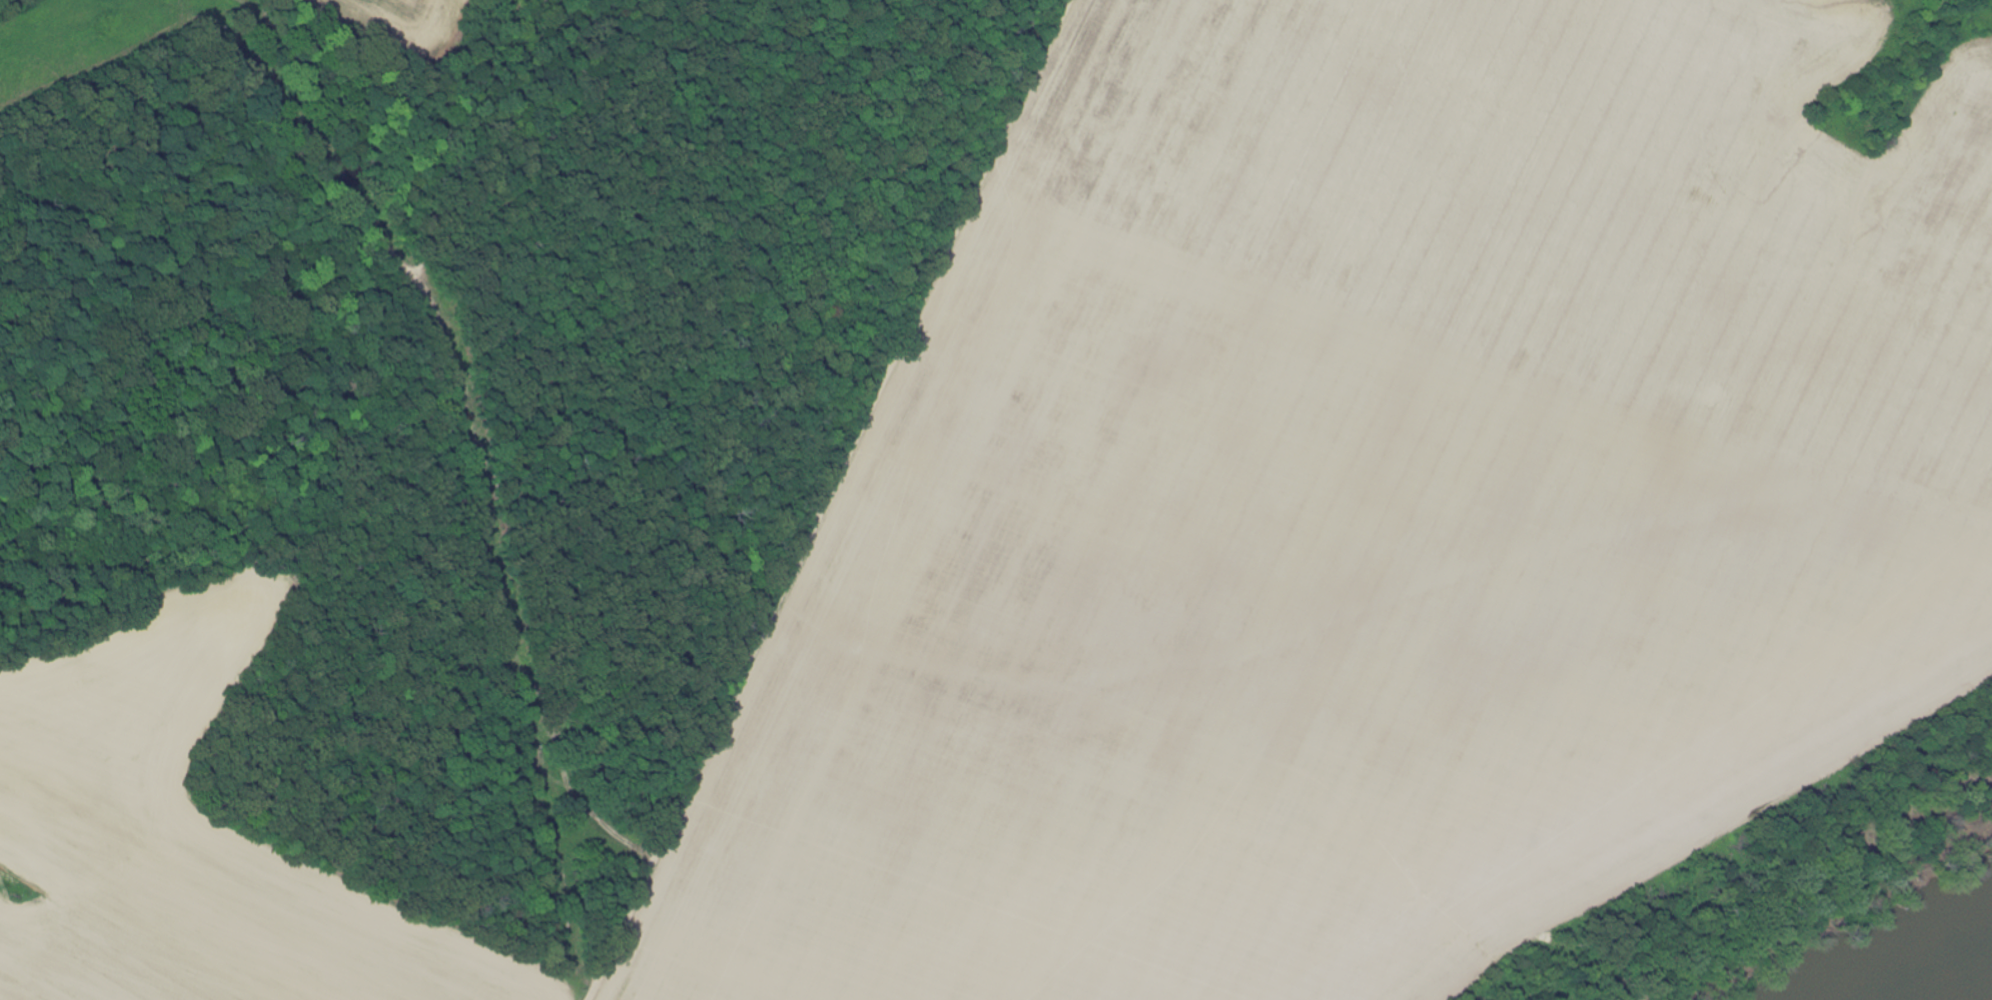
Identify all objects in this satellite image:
river: (1942, 971)

